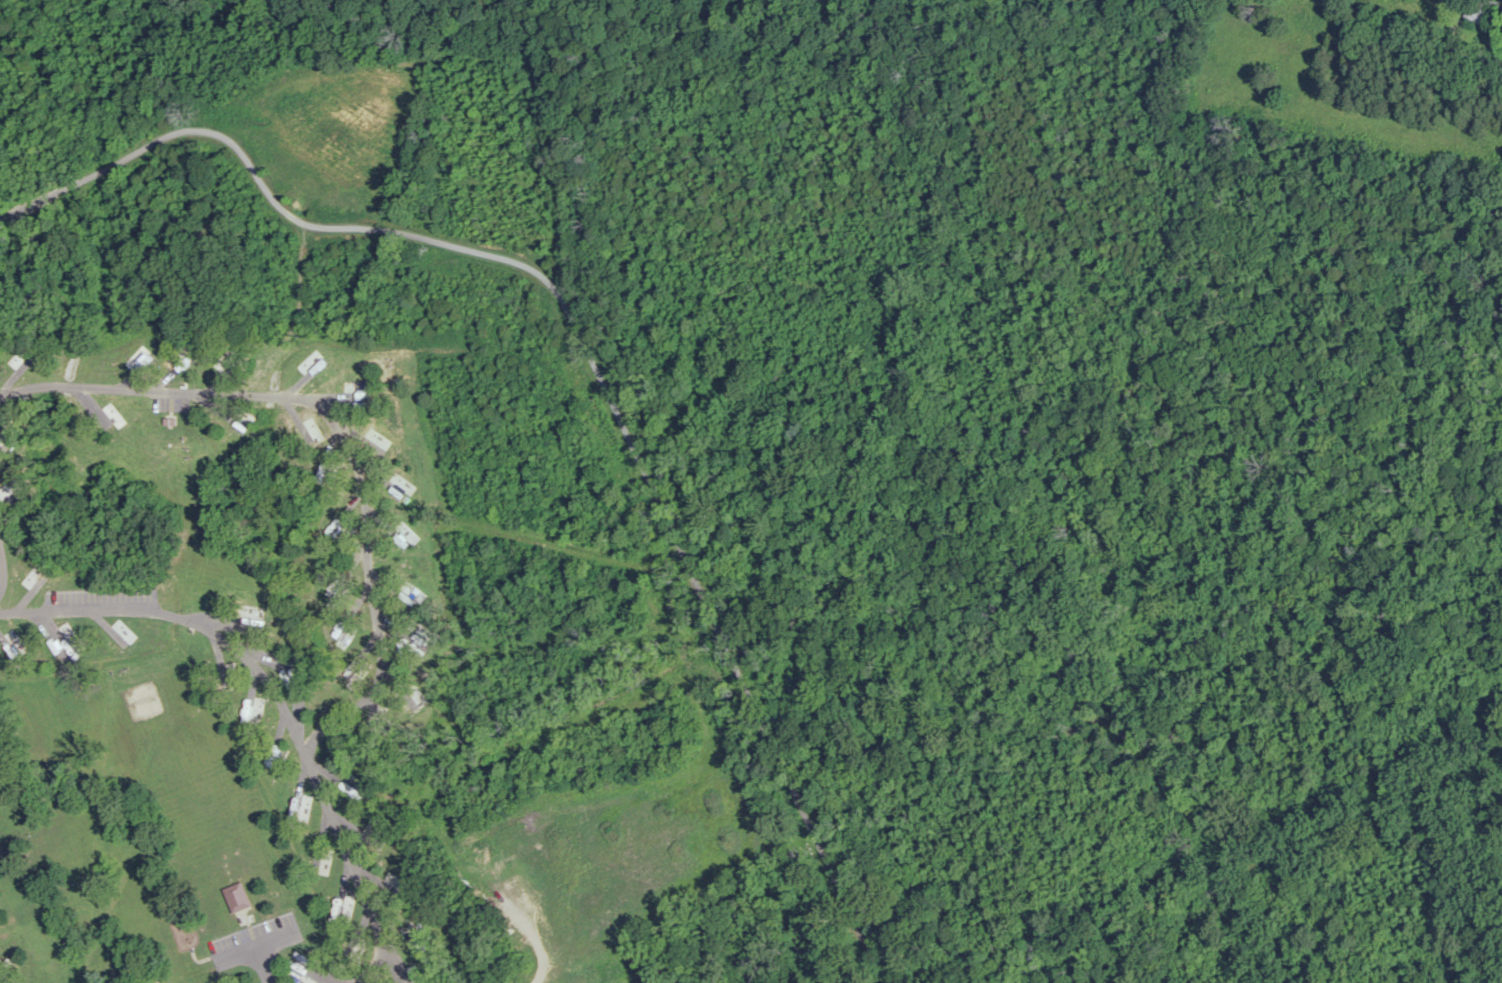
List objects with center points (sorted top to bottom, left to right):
building: (1474, 15)
road: (1474, 55)
building: (168, 436)
road: (366, 559)
road: (0, 575)
road: (183, 619)
building: (237, 897)
park: (185, 927)

